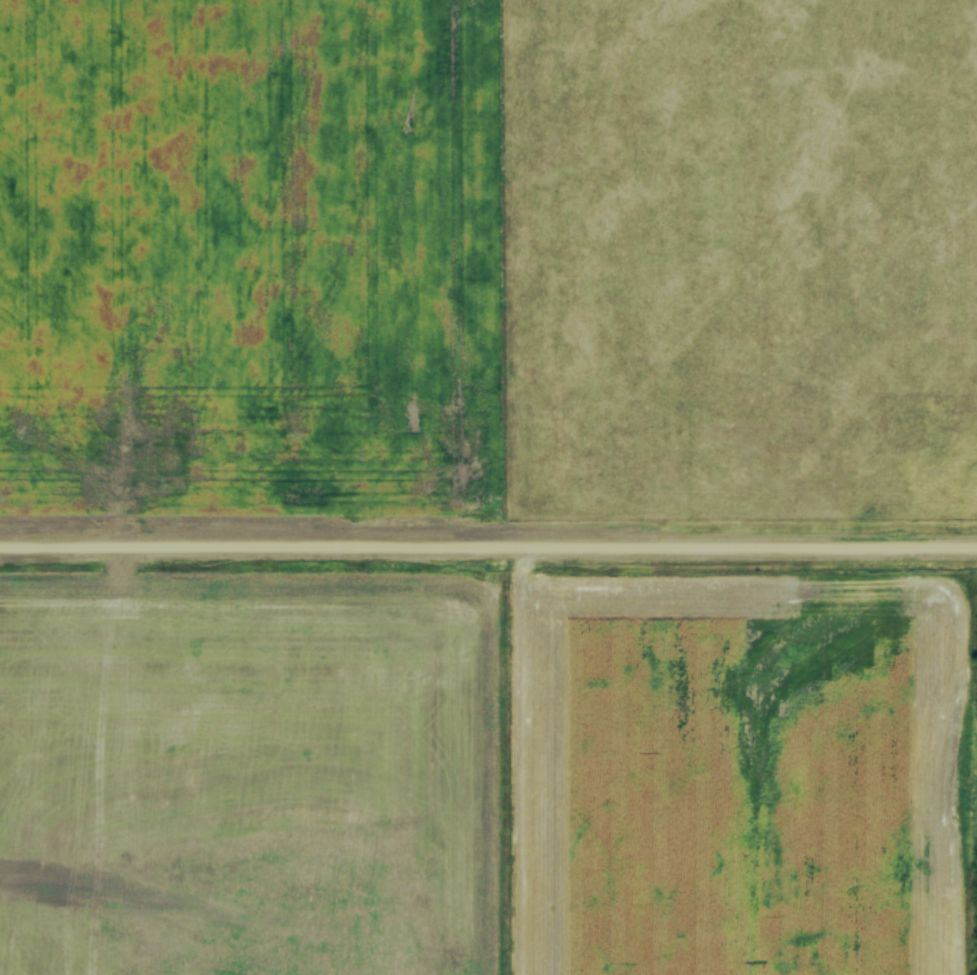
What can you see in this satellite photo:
road: (488, 548)

